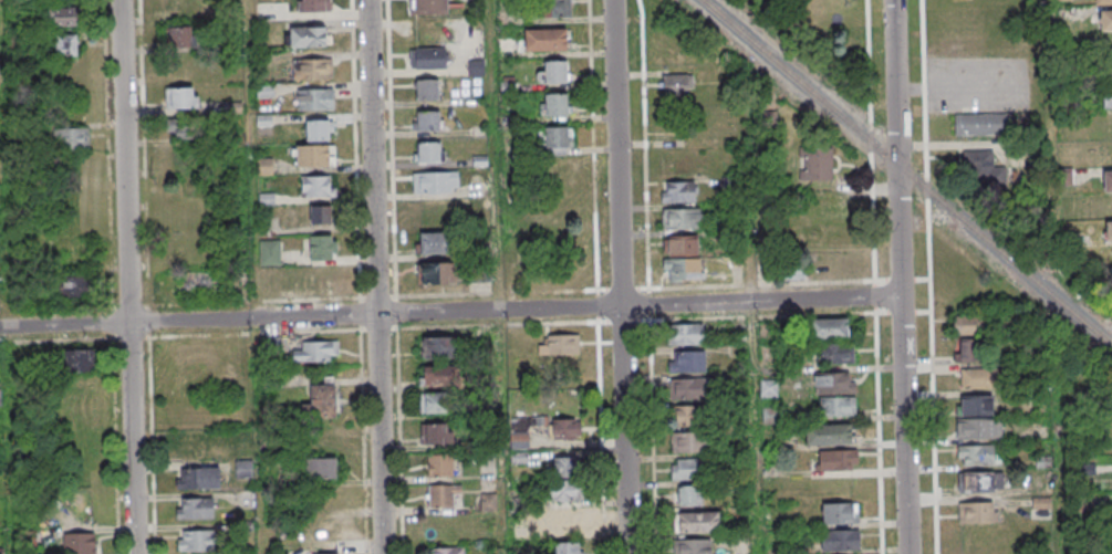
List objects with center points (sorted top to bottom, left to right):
building: (1102, 2)
building: (312, 6)
building: (427, 7)
building: (554, 8)
building: (181, 9)
building: (61, 18)
building: (1104, 20)
building: (309, 36)
building: (179, 39)
building: (545, 39)
building: (65, 46)
building: (427, 58)
building: (312, 69)
building: (557, 71)
building: (1108, 73)
building: (676, 84)
road: (954, 86)
building: (426, 88)
building: (1106, 96)
building: (180, 97)
building: (314, 98)
building: (554, 104)
building: (426, 121)
building: (983, 124)
building: (319, 129)
building: (179, 130)
building: (79, 138)
road: (251, 140)
building: (558, 142)
building: (427, 150)
building: (315, 155)
building: (978, 163)
building: (815, 165)
railway: (906, 174)
building: (1106, 180)
building: (436, 181)
building: (318, 186)
building: (678, 191)
building: (320, 215)
building: (682, 218)
building: (1109, 229)
building: (434, 242)
building: (680, 244)
building: (323, 248)
building: (270, 252)
building: (684, 269)
building: (792, 270)
building: (437, 273)
road: (126, 276)
road: (360, 276)
road: (374, 276)
road: (394, 276)
road: (620, 276)
road: (647, 276)
road: (900, 276)
building: (195, 282)
building: (75, 288)
road: (449, 293)
road: (449, 311)
building: (969, 325)
building: (829, 327)
building: (686, 334)
building: (559, 344)
building: (438, 346)
building: (315, 351)
building: (971, 351)
building: (835, 353)
building: (76, 359)
building: (687, 362)
building: (439, 375)
building: (977, 378)
building: (834, 383)
building: (689, 388)
building: (768, 388)
building: (321, 401)
building: (434, 404)
building: (976, 405)
building: (836, 406)
building: (689, 415)
building: (564, 428)
building: (980, 428)
building: (436, 433)
building: (828, 433)
building: (520, 441)
building: (689, 441)
building: (977, 454)
building: (838, 460)
building: (439, 464)
building: (564, 464)
building: (321, 468)
building: (688, 468)
building: (243, 469)
building: (198, 478)
building: (978, 481)
building: (562, 490)
building: (443, 495)
building: (686, 495)
building: (195, 508)
building: (977, 512)
building: (840, 513)
building: (563, 520)
building: (696, 522)
building: (196, 540)
building: (839, 540)
building: (79, 543)
building: (693, 546)
building: (568, 547)
building: (447, 551)
building: (325, 553)

